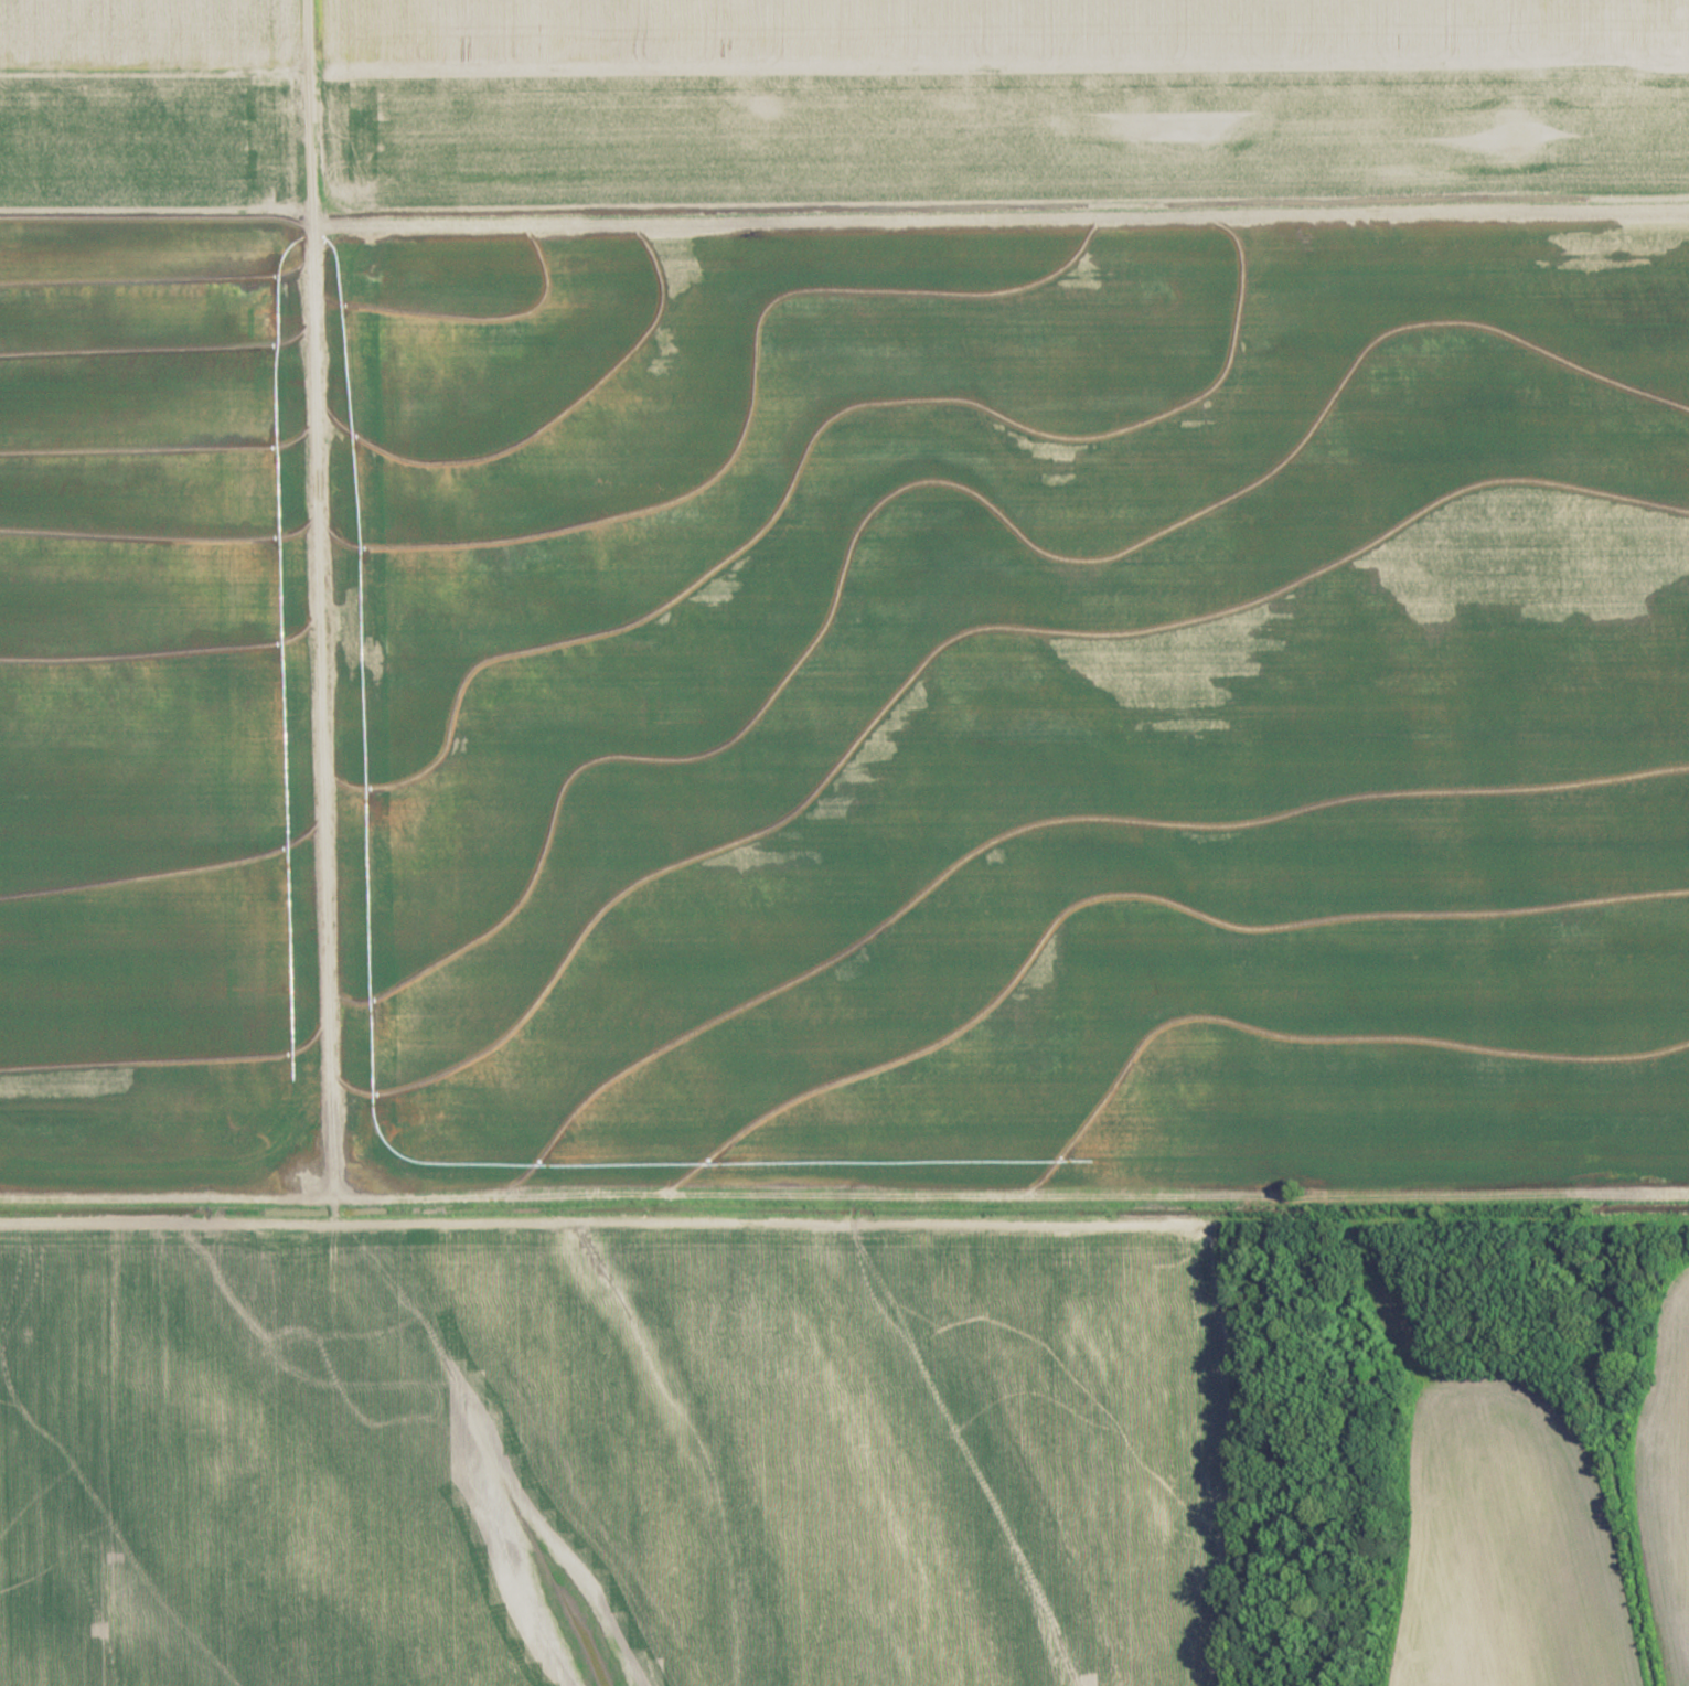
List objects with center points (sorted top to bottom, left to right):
road: (312, 115)
road: (844, 224)
road: (321, 724)
road: (844, 1220)
road: (268, 1450)

